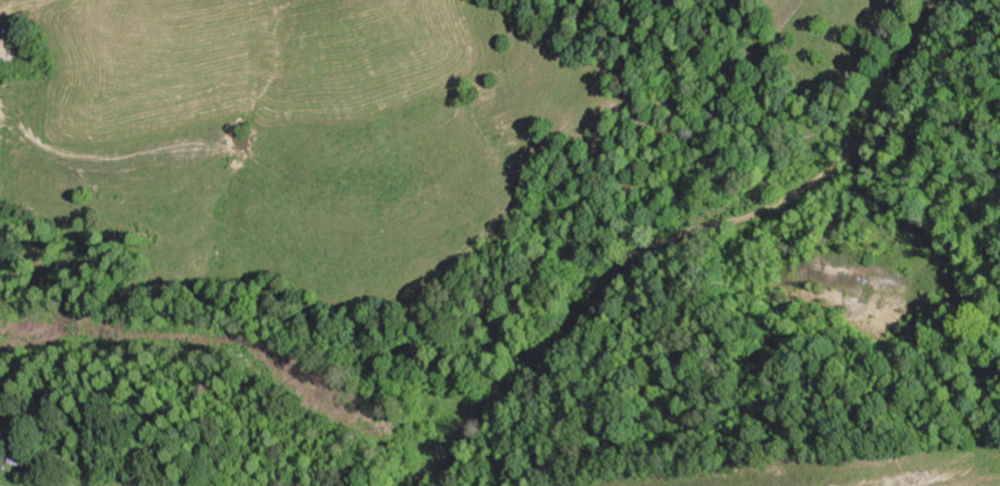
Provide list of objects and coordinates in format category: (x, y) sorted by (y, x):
building: (30, 456)

